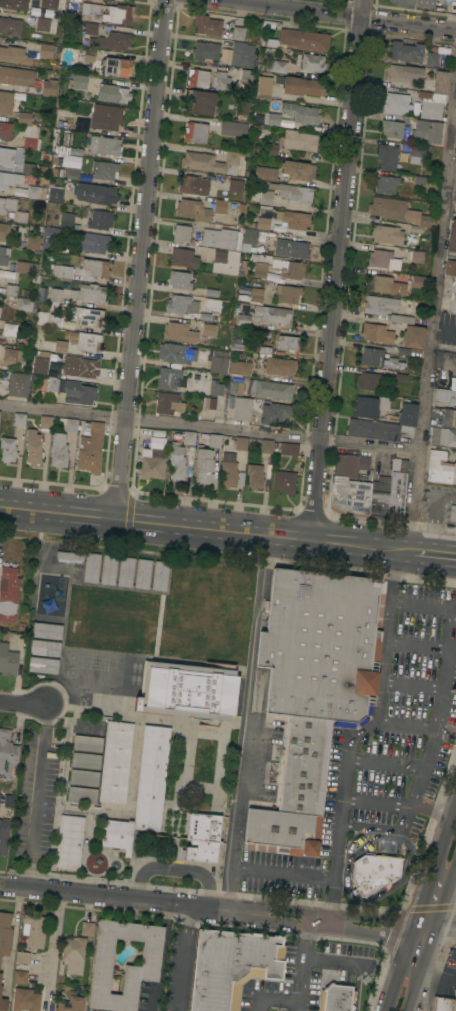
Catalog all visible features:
building: (415, 2)
building: (49, 3)
building: (14, 4)
building: (90, 9)
building: (42, 12)
building: (118, 14)
road: (345, 14)
building: (44, 24)
building: (207, 25)
building: (10, 26)
building: (90, 28)
building: (304, 39)
building: (111, 41)
building: (241, 49)
building: (45, 50)
building: (205, 50)
building: (406, 51)
building: (14, 55)
building: (225, 55)
building: (88, 58)
building: (431, 59)
building: (312, 62)
building: (116, 66)
building: (276, 66)
building: (403, 73)
building: (246, 75)
building: (16, 76)
building: (197, 78)
building: (79, 81)
building: (221, 81)
building: (440, 81)
building: (49, 85)
building: (300, 85)
building: (264, 86)
building: (113, 93)
building: (5, 102)
building: (200, 102)
building: (395, 103)
building: (430, 104)
building: (301, 113)
building: (105, 116)
building: (23, 118)
building: (258, 118)
building: (272, 119)
building: (81, 124)
building: (233, 128)
building: (391, 128)
building: (5, 130)
building: (426, 131)
building: (195, 132)
road: (454, 136)
building: (31, 137)
building: (292, 142)
building: (105, 145)
building: (66, 149)
building: (416, 154)
building: (7, 156)
building: (387, 156)
building: (210, 162)
building: (28, 168)
building: (104, 170)
building: (298, 170)
building: (454, 170)
building: (72, 172)
building: (264, 172)
building: (6, 180)
building: (420, 180)
building: (385, 184)
building: (196, 185)
building: (235, 185)
building: (35, 192)
building: (293, 192)
building: (95, 193)
building: (55, 194)
building: (265, 197)
building: (7, 204)
building: (220, 206)
building: (192, 210)
building: (400, 213)
building: (21, 217)
building: (65, 219)
building: (98, 219)
building: (295, 219)
road: (175, 221)
building: (263, 223)
building: (277, 228)
building: (4, 231)
building: (181, 232)
building: (386, 234)
building: (452, 236)
building: (221, 238)
building: (249, 239)
building: (32, 242)
building: (92, 242)
building: (291, 248)
building: (214, 254)
building: (4, 255)
building: (415, 256)
building: (183, 257)
building: (383, 259)
road: (140, 260)
building: (21, 266)
building: (96, 267)
building: (450, 267)
building: (243, 268)
building: (291, 269)
building: (259, 270)
building: (62, 271)
road: (336, 271)
building: (273, 277)
building: (180, 280)
building: (418, 281)
building: (385, 285)
building: (452, 285)
building: (11, 290)
building: (87, 293)
building: (211, 293)
building: (287, 293)
building: (256, 295)
building: (54, 297)
building: (26, 304)
building: (451, 304)
building: (380, 305)
building: (192, 306)
building: (0, 307)
building: (84, 316)
building: (244, 316)
building: (270, 316)
building: (403, 319)
building: (54, 320)
road: (432, 328)
building: (209, 329)
building: (7, 330)
building: (179, 332)
building: (376, 333)
building: (413, 336)
building: (83, 340)
building: (287, 342)
building: (60, 346)
building: (175, 352)
building: (454, 355)
building: (11, 356)
building: (370, 356)
building: (277, 364)
building: (218, 365)
building: (40, 366)
building: (80, 366)
building: (239, 367)
building: (393, 377)
building: (170, 378)
building: (367, 380)
building: (17, 384)
building: (215, 388)
building: (236, 388)
building: (269, 388)
building: (78, 392)
building: (445, 396)
building: (168, 403)
building: (209, 403)
building: (370, 405)
building: (242, 408)
building: (275, 413)
building: (449, 418)
building: (19, 419)
building: (45, 422)
building: (68, 423)
building: (385, 425)
road: (209, 428)
building: (441, 436)
building: (188, 437)
building: (211, 440)
building: (239, 443)
building: (266, 446)
building: (33, 447)
building: (288, 448)
building: (7, 449)
building: (90, 449)
building: (58, 451)
building: (176, 462)
building: (152, 463)
building: (203, 464)
building: (440, 468)
building: (230, 469)
building: (255, 476)
building: (283, 481)
building: (349, 486)
building: (397, 490)
building: (379, 497)
building: (452, 513)
road: (432, 516)
road: (227, 533)
building: (70, 555)
building: (91, 567)
building: (108, 569)
building: (125, 571)
building: (142, 573)
building: (159, 575)
building: (8, 593)
building: (46, 630)
road: (417, 645)
building: (44, 647)
building: (8, 659)
building: (43, 665)
road: (413, 685)
building: (188, 689)
building: (313, 690)
road: (246, 703)
road: (25, 705)
road: (437, 721)
parking lot: (403, 725)
building: (89, 726)
road: (418, 726)
road: (360, 733)
building: (87, 743)
building: (7, 755)
building: (85, 760)
building: (115, 762)
road: (384, 762)
building: (26, 764)
building: (83, 777)
building: (143, 791)
building: (82, 794)
road: (39, 796)
building: (8, 801)
road: (376, 802)
road: (432, 804)
road: (446, 827)
building: (4, 836)
building: (202, 837)
building: (69, 841)
road: (174, 869)
road: (264, 872)
parking lot: (287, 872)
building: (374, 872)
road: (425, 892)
road: (444, 892)
road: (227, 908)
road: (17, 925)
building: (86, 928)
building: (35, 930)
building: (5, 933)
road: (53, 938)
road: (424, 951)
building: (73, 954)
road: (183, 956)
building: (22, 957)
road: (300, 963)
road: (333, 964)
building: (102, 965)
building: (231, 966)
road: (400, 969)
building: (0, 975)
parking lot: (307, 975)
building: (20, 976)
building: (0, 990)
road: (411, 994)
building: (336, 998)
building: (25, 999)
road: (271, 1000)
building: (443, 1003)
building: (3, 1004)
building: (70, 1004)

